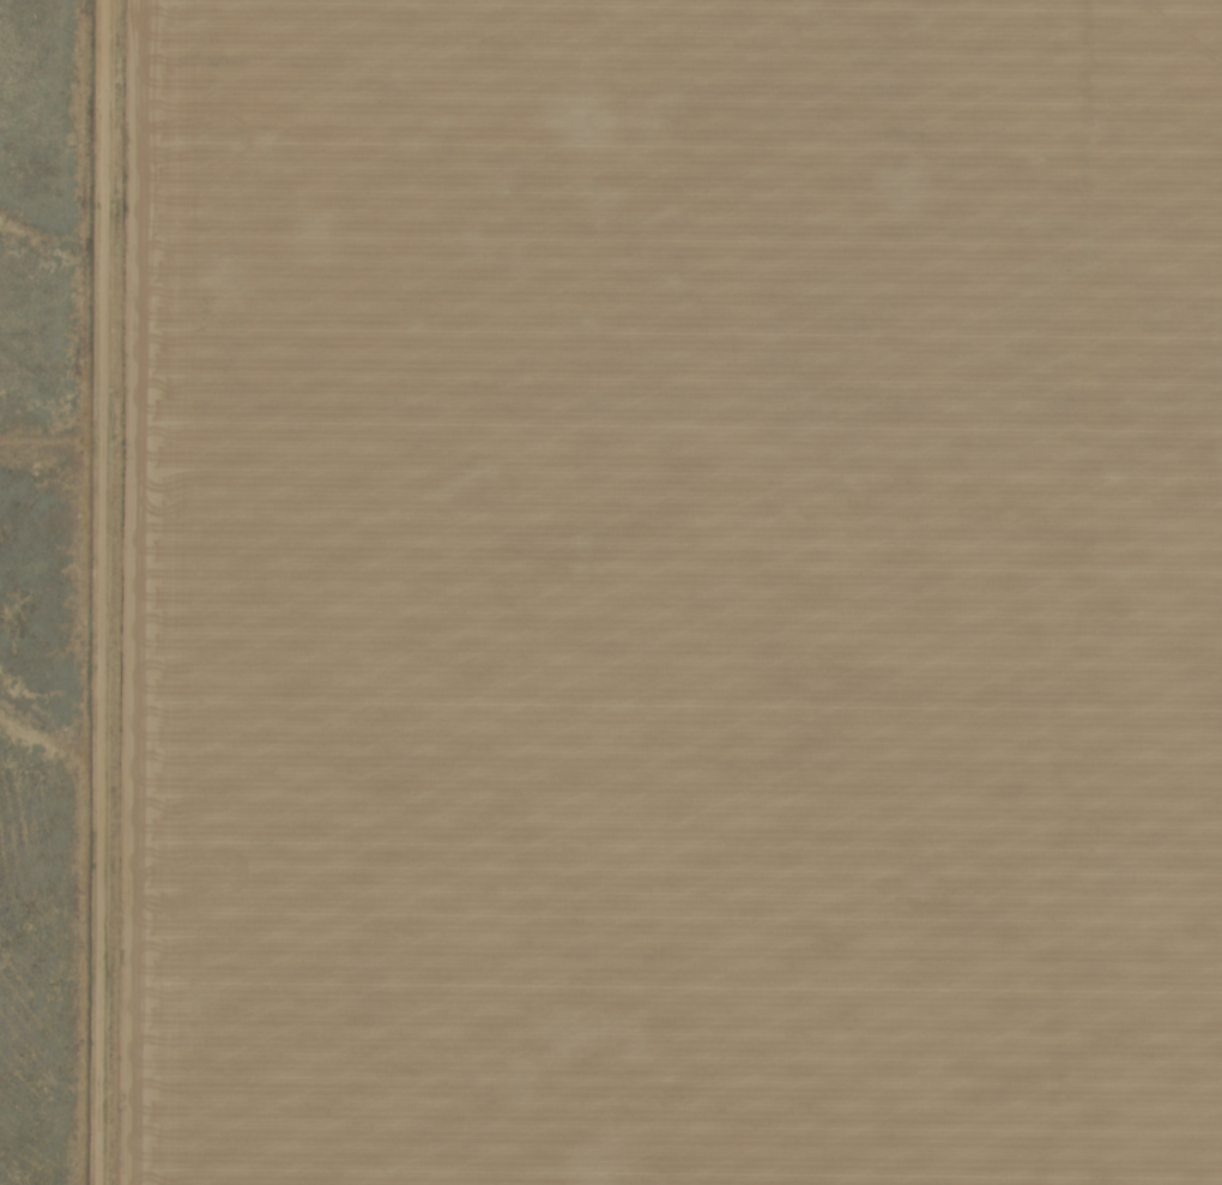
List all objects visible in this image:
road: (157, 592)

